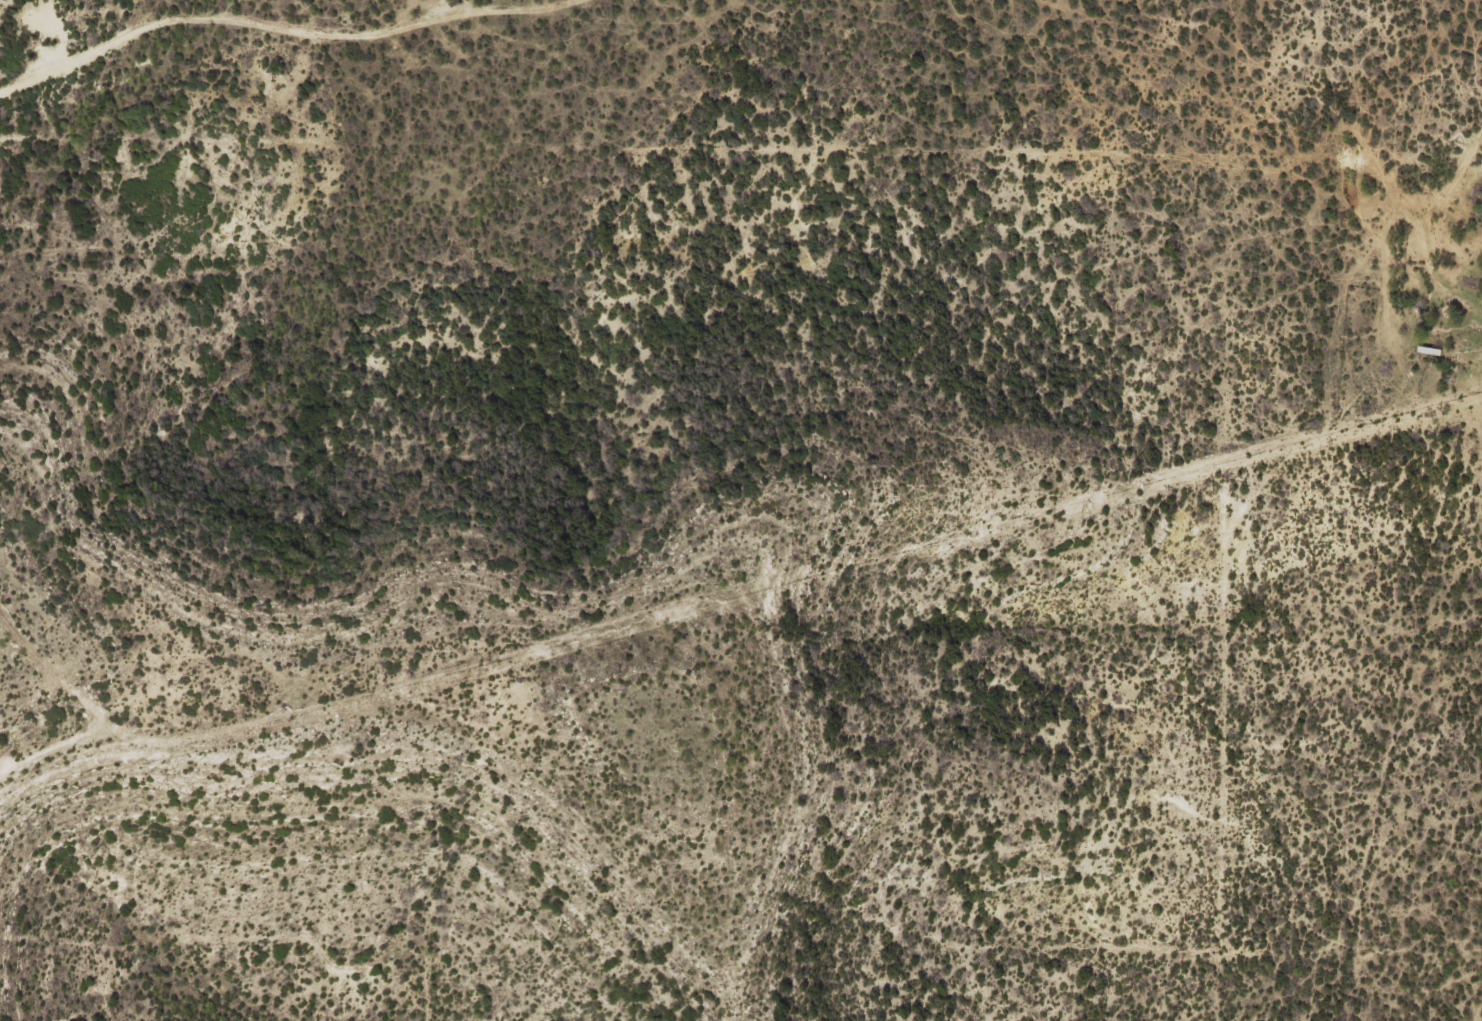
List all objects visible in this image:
road: (1463, 261)

